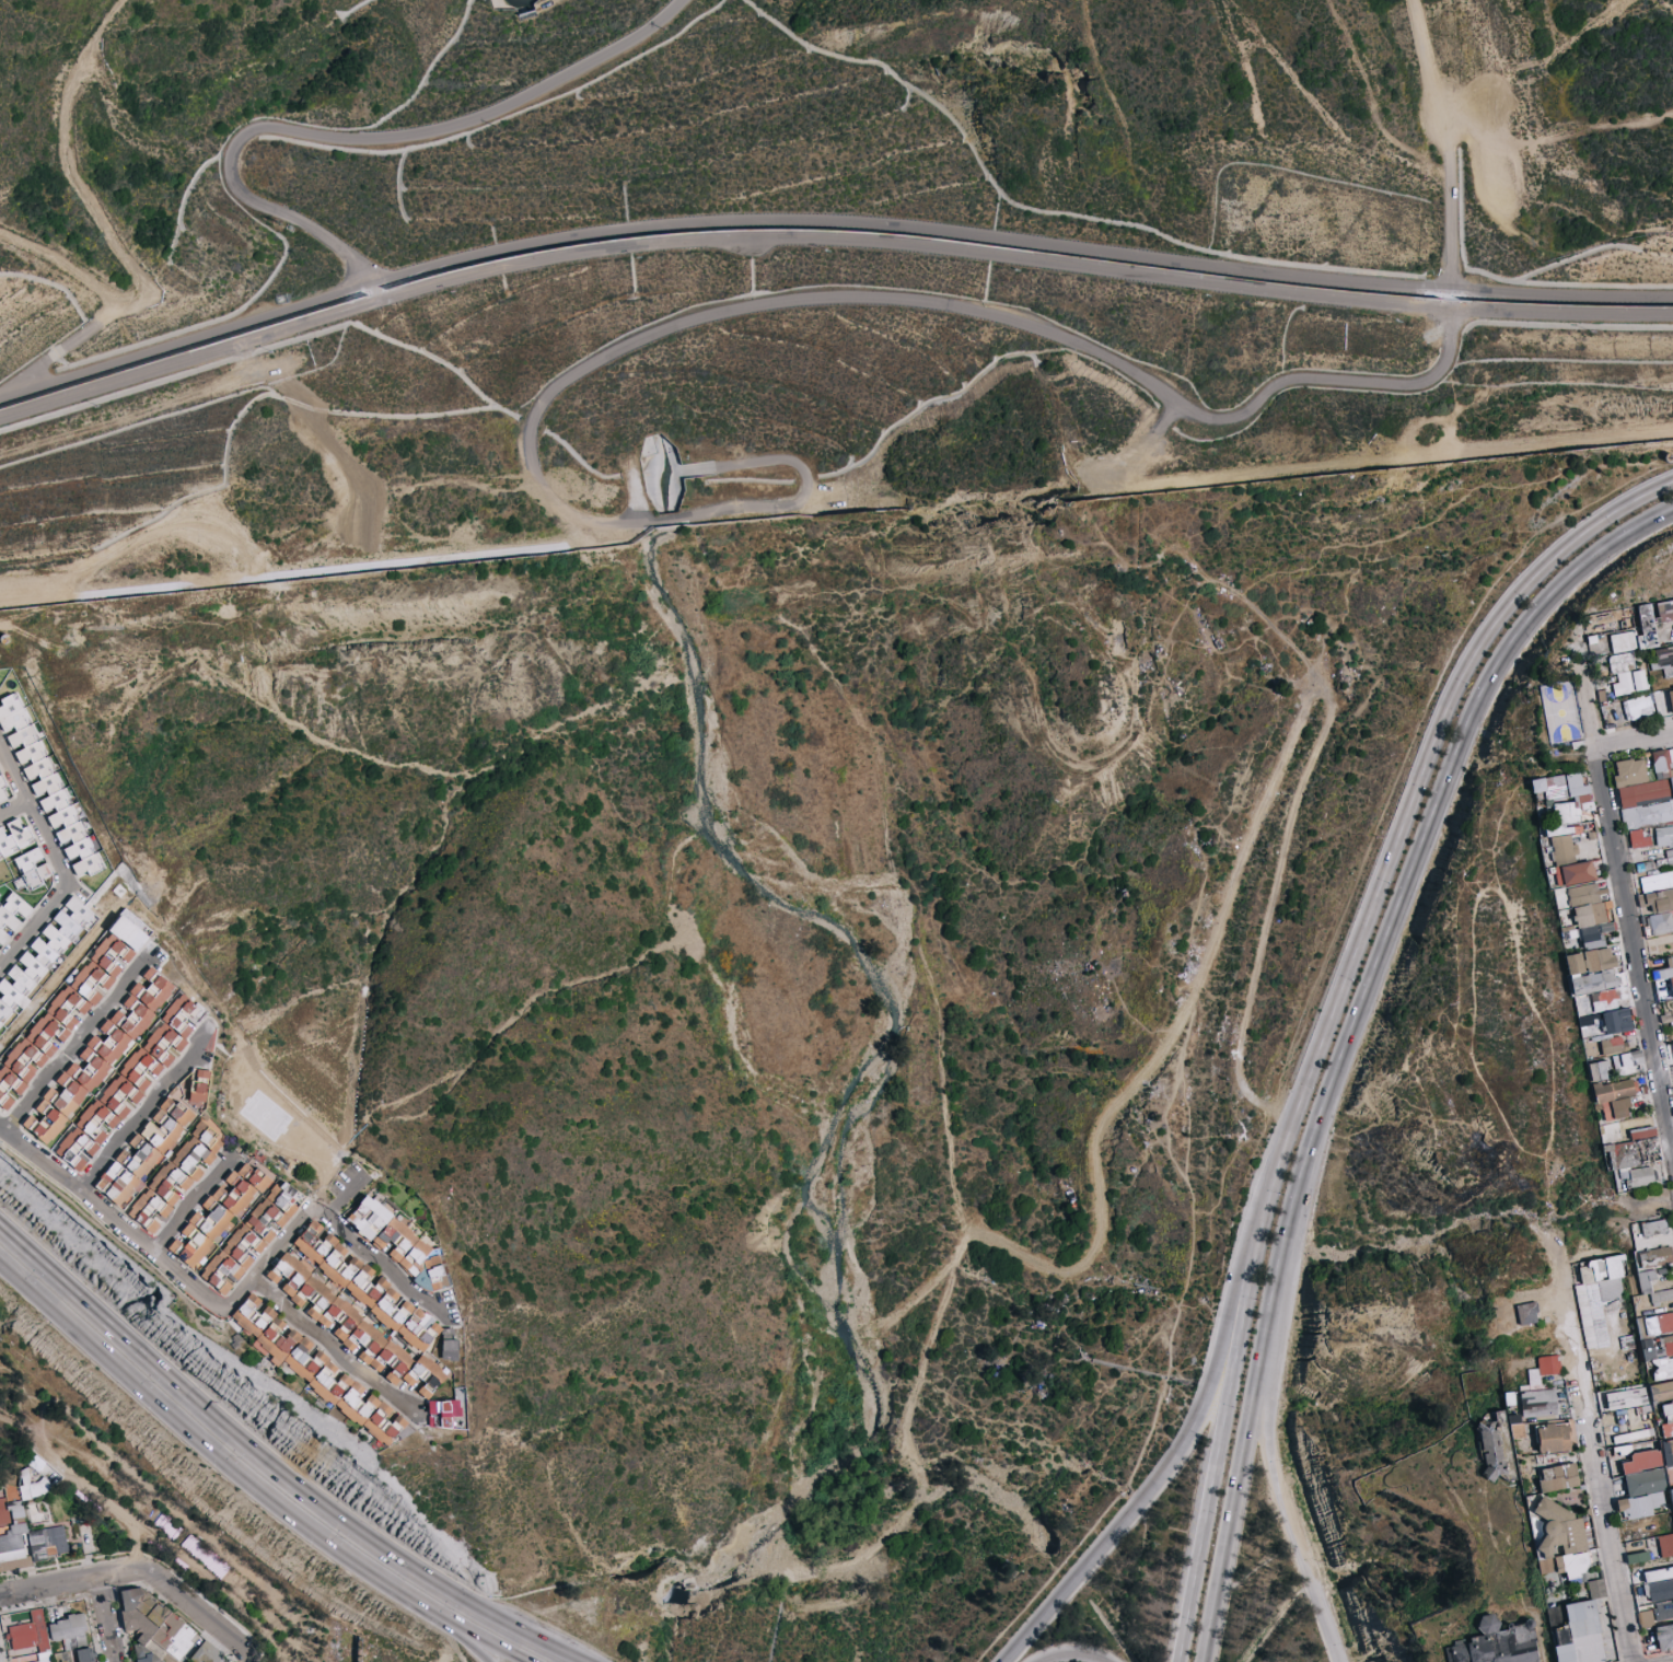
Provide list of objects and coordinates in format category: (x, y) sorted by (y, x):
road: (106, 25)
road: (356, 140)
road: (85, 185)
road: (826, 221)
road: (826, 241)
road: (67, 259)
road: (65, 347)
road: (1153, 383)
road: (766, 460)
road: (1351, 465)
road: (1111, 484)
road: (658, 524)
road: (313, 571)
building: (1665, 611)
building: (1658, 623)
building: (1649, 626)
building: (1665, 656)
building: (1623, 663)
building: (1641, 681)
building: (1627, 684)
building: (1671, 698)
building: (1661, 700)
road: (1589, 701)
building: (1638, 707)
building: (42, 781)
building: (44, 783)
building: (1646, 789)
building: (3, 790)
road: (13, 805)
road: (33, 812)
building: (1566, 825)
building: (14, 838)
road: (1393, 838)
building: (1639, 838)
building: (1666, 842)
building: (32, 869)
building: (1657, 881)
building: (1655, 902)
building: (11, 914)
building: (1588, 916)
road: (1394, 917)
building: (1660, 922)
building: (44, 957)
building: (1663, 987)
building: (1596, 998)
building: (70, 1007)
building: (8, 1024)
building: (1672, 1045)
building: (97, 1058)
building: (1625, 1062)
building: (1599, 1070)
building: (129, 1083)
building: (1614, 1097)
building: (164, 1157)
building: (1636, 1160)
building: (219, 1213)
building: (253, 1236)
building: (399, 1244)
building: (1598, 1297)
building: (1652, 1301)
building: (360, 1309)
building: (1526, 1313)
building: (450, 1349)
building: (315, 1369)
building: (1543, 1370)
building: (1509, 1398)
building: (1622, 1398)
building: (1538, 1403)
road: (195, 1404)
building: (443, 1413)
building: (1668, 1417)
building: (1515, 1426)
building: (1555, 1437)
building: (1627, 1449)
building: (1668, 1451)
building: (1641, 1461)
building: (1558, 1477)
building: (1643, 1481)
building: (32, 1486)
building: (1671, 1496)
building: (1638, 1506)
building: (26, 1536)
building: (1665, 1544)
building: (154, 1626)
building: (73, 1636)
building: (32, 1637)
building: (206, 1654)

